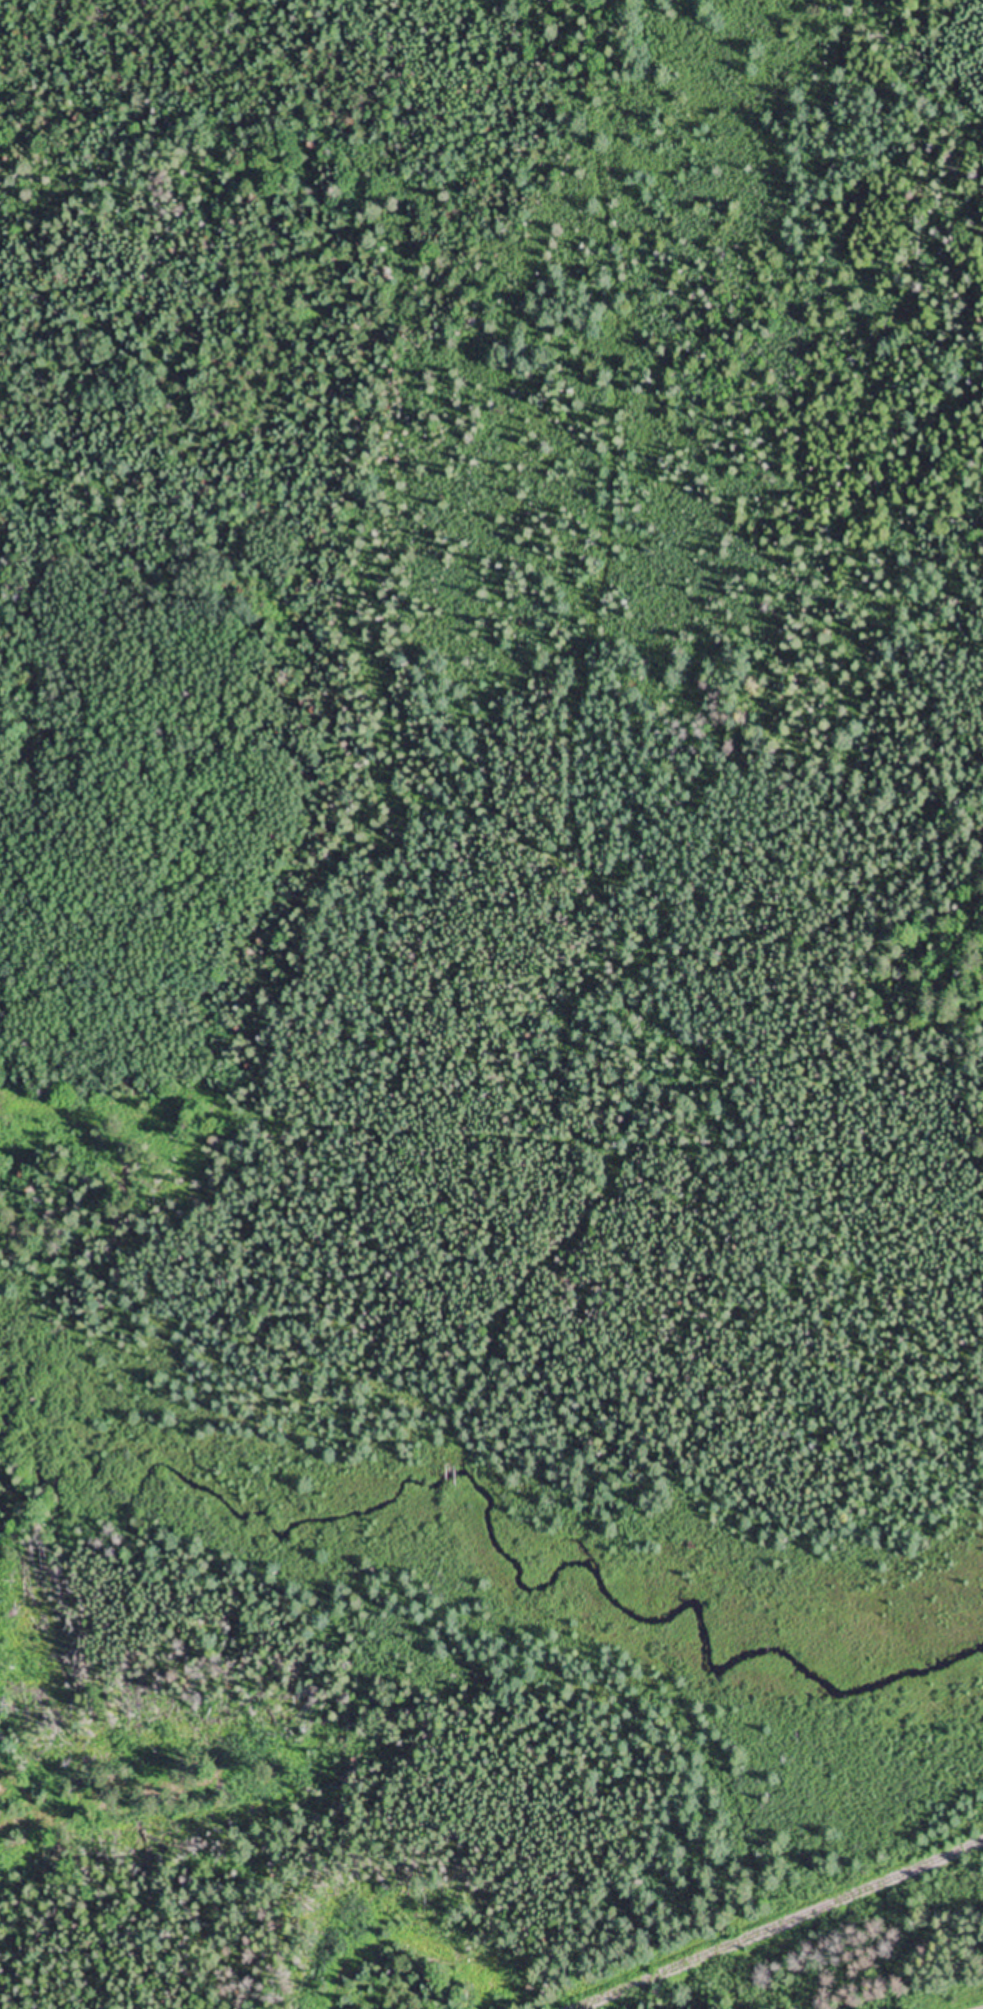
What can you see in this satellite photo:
railway: (780, 1924)
road: (974, 2006)

